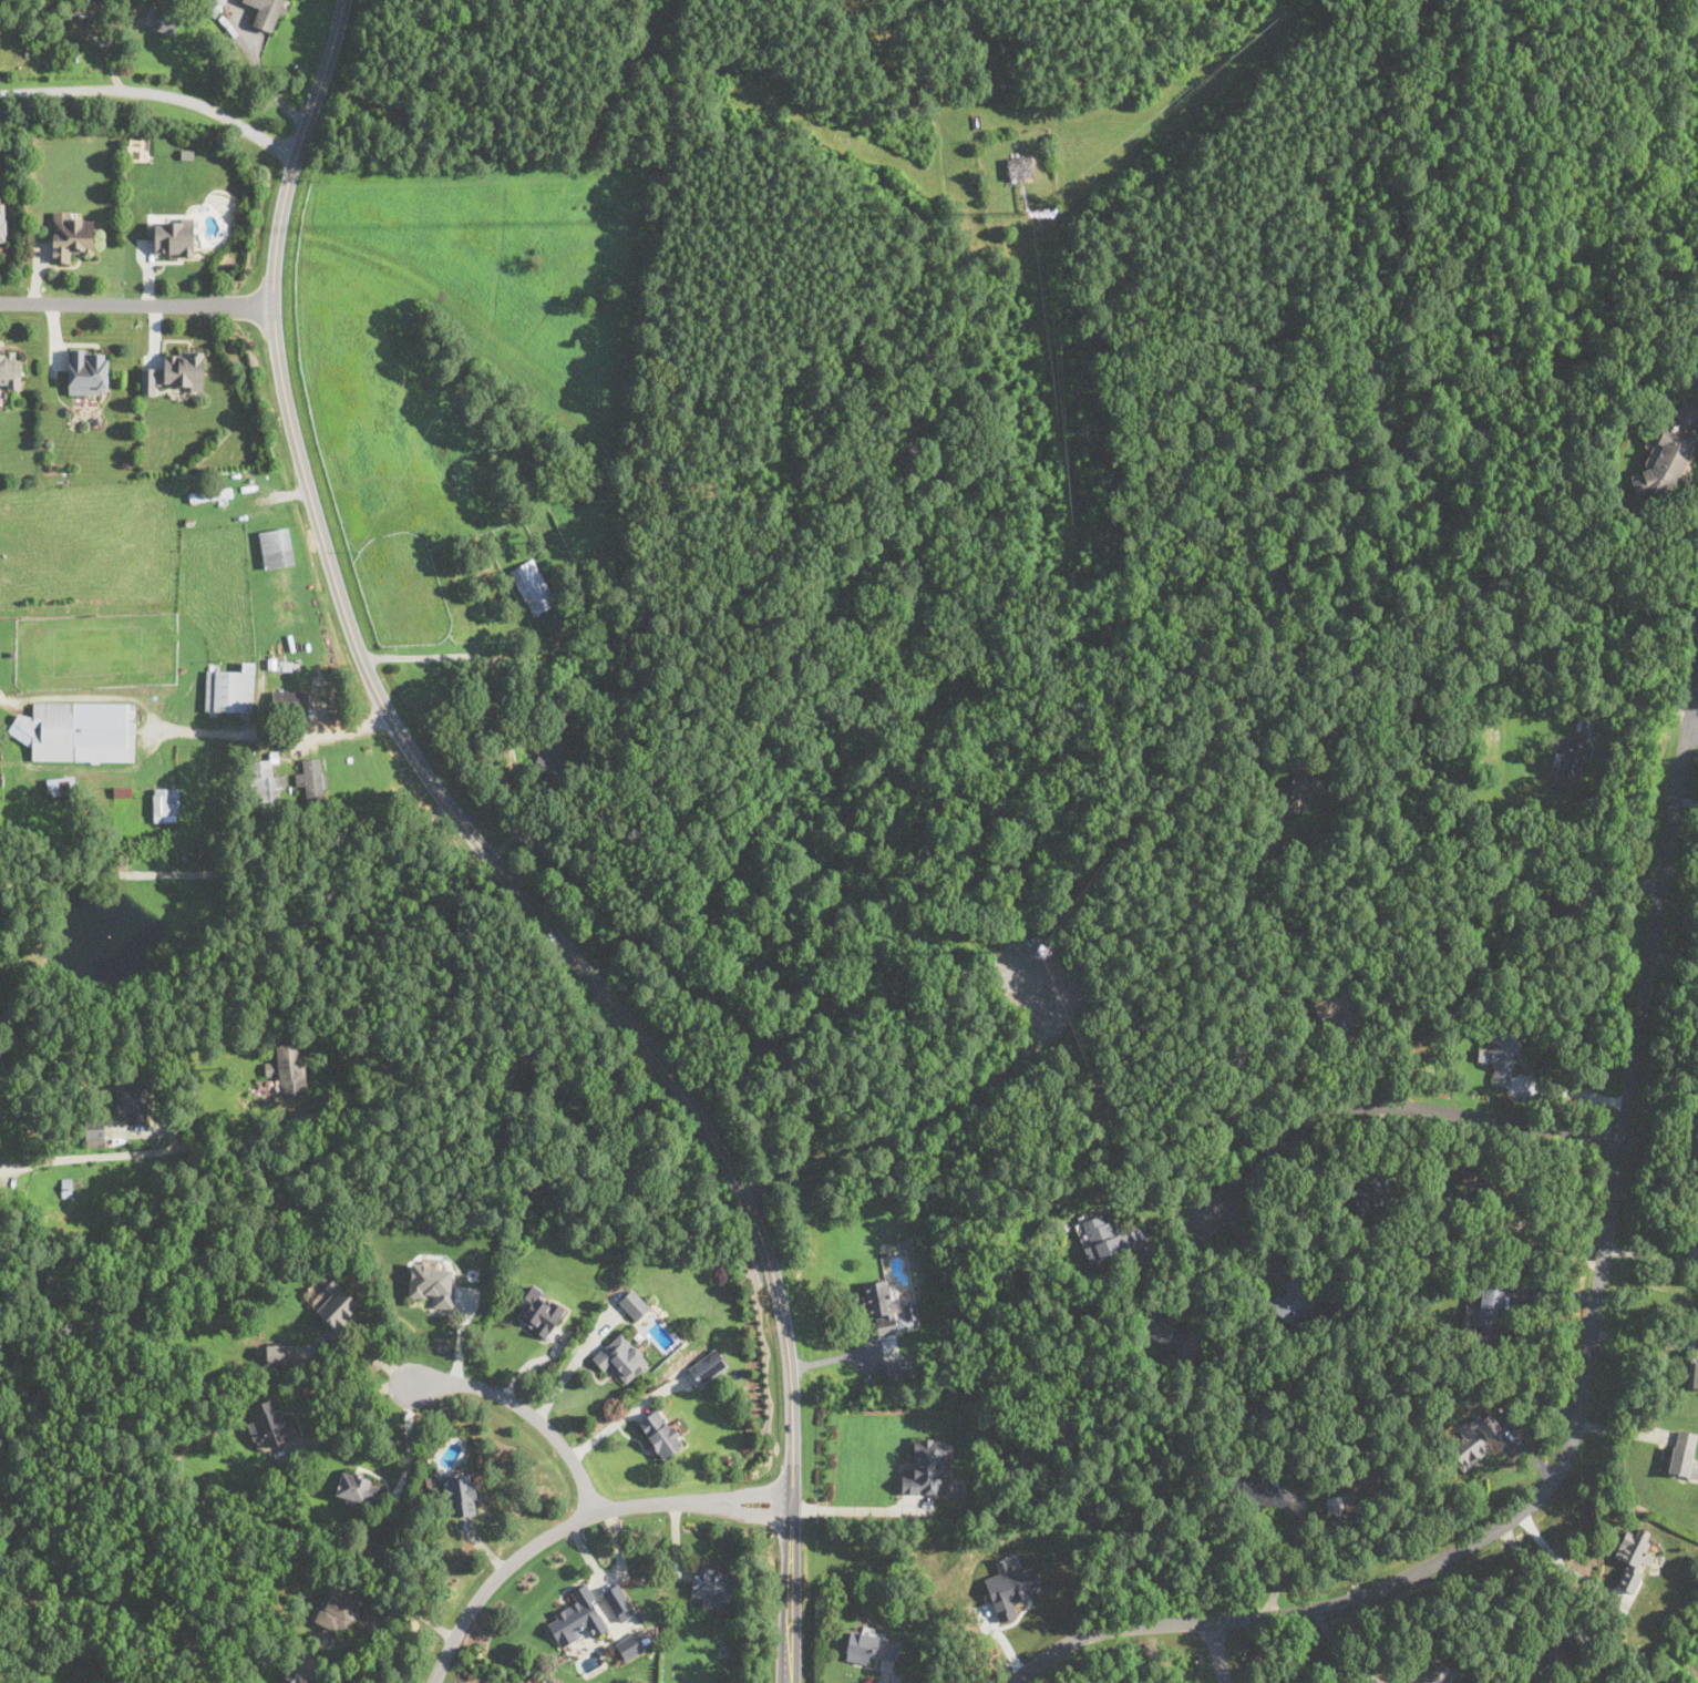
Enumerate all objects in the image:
building: (213, 4)
building: (266, 12)
building: (166, 21)
road: (154, 98)
building: (1020, 167)
building: (2, 225)
building: (70, 235)
building: (172, 235)
road: (136, 304)
building: (9, 367)
building: (182, 369)
building: (88, 370)
building: (1664, 463)
building: (210, 494)
building: (276, 546)
road: (1646, 572)
building: (532, 586)
road: (490, 661)
building: (230, 689)
road: (1633, 698)
building: (287, 701)
road: (1694, 721)
building: (79, 730)
road: (276, 736)
building: (1570, 757)
building: (311, 779)
building: (264, 781)
building: (61, 784)
building: (1304, 784)
building: (122, 791)
building: (165, 803)
road: (491, 856)
road: (231, 869)
building: (1566, 909)
road: (1239, 1005)
building: (1335, 1009)
building: (1501, 1058)
building: (289, 1061)
building: (272, 1076)
road: (1572, 1091)
building: (133, 1100)
road: (1397, 1105)
road: (337, 1116)
building: (95, 1136)
road: (14, 1166)
building: (66, 1186)
building: (1370, 1198)
building: (1102, 1238)
road: (1539, 1239)
road: (1648, 1282)
building: (433, 1283)
road: (1201, 1285)
building: (1293, 1301)
building: (338, 1304)
building: (634, 1305)
building: (882, 1306)
building: (538, 1311)
building: (1486, 1316)
building: (1165, 1330)
road: (1502, 1332)
road: (1643, 1338)
building: (279, 1353)
road: (842, 1356)
building: (620, 1357)
road: (1585, 1358)
building: (707, 1366)
building: (895, 1368)
building: (1692, 1373)
road: (527, 1410)
road: (352, 1415)
road: (625, 1415)
building: (269, 1424)
building: (659, 1433)
building: (1474, 1437)
road: (410, 1439)
building: (1682, 1454)
building: (927, 1469)
building: (1366, 1482)
building: (360, 1488)
building: (1263, 1491)
building: (461, 1494)
road: (852, 1508)
road: (575, 1521)
building: (1633, 1557)
road: (1561, 1563)
road: (611, 1577)
building: (711, 1583)
road: (1537, 1583)
building: (1010, 1587)
building: (618, 1602)
building: (338, 1609)
building: (578, 1618)
building: (630, 1644)
building: (872, 1644)
road: (1222, 1653)
building: (1440, 1672)
road: (358, 1676)
building: (297, 1677)

